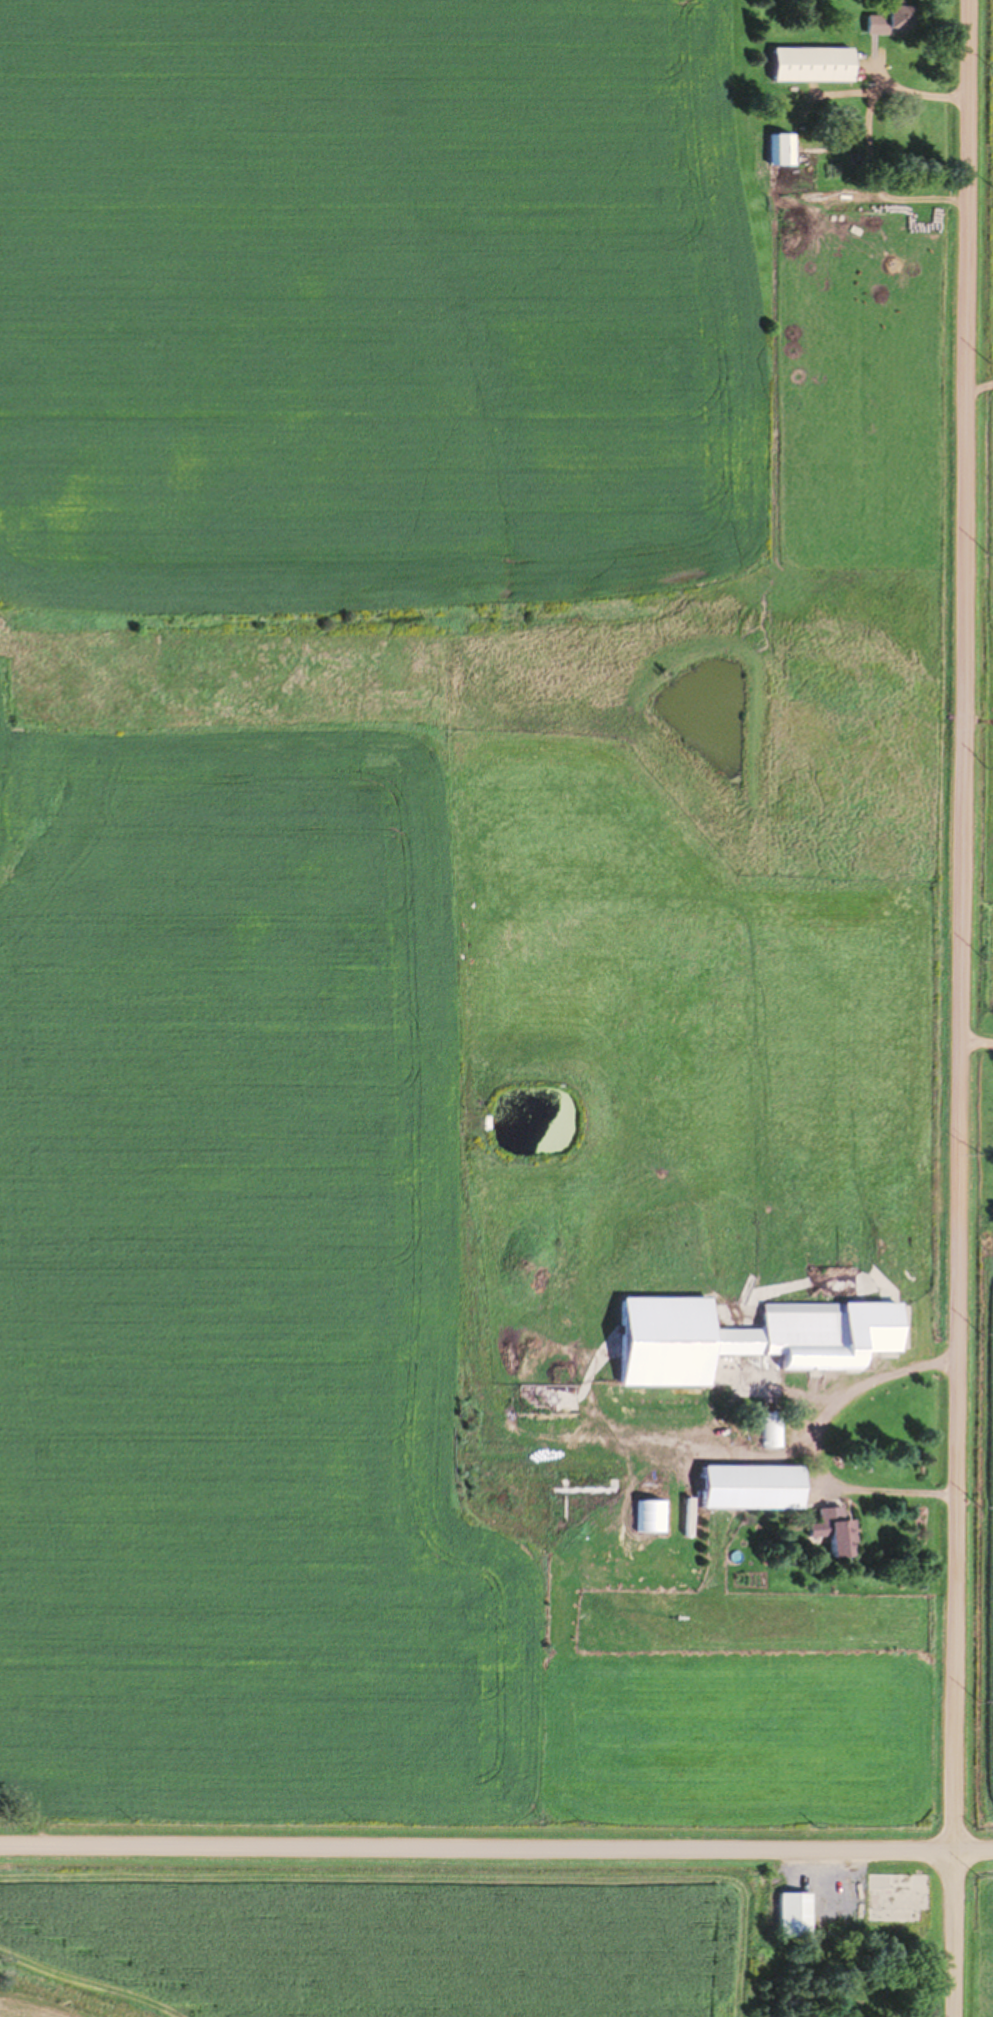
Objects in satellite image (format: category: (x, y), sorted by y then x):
building: (889, 19)
building: (811, 63)
building: (780, 149)
road: (964, 1008)
building: (830, 1333)
building: (665, 1340)
building: (770, 1429)
building: (751, 1486)
building: (837, 1529)
road: (496, 1847)
building: (895, 1896)
building: (794, 1914)

